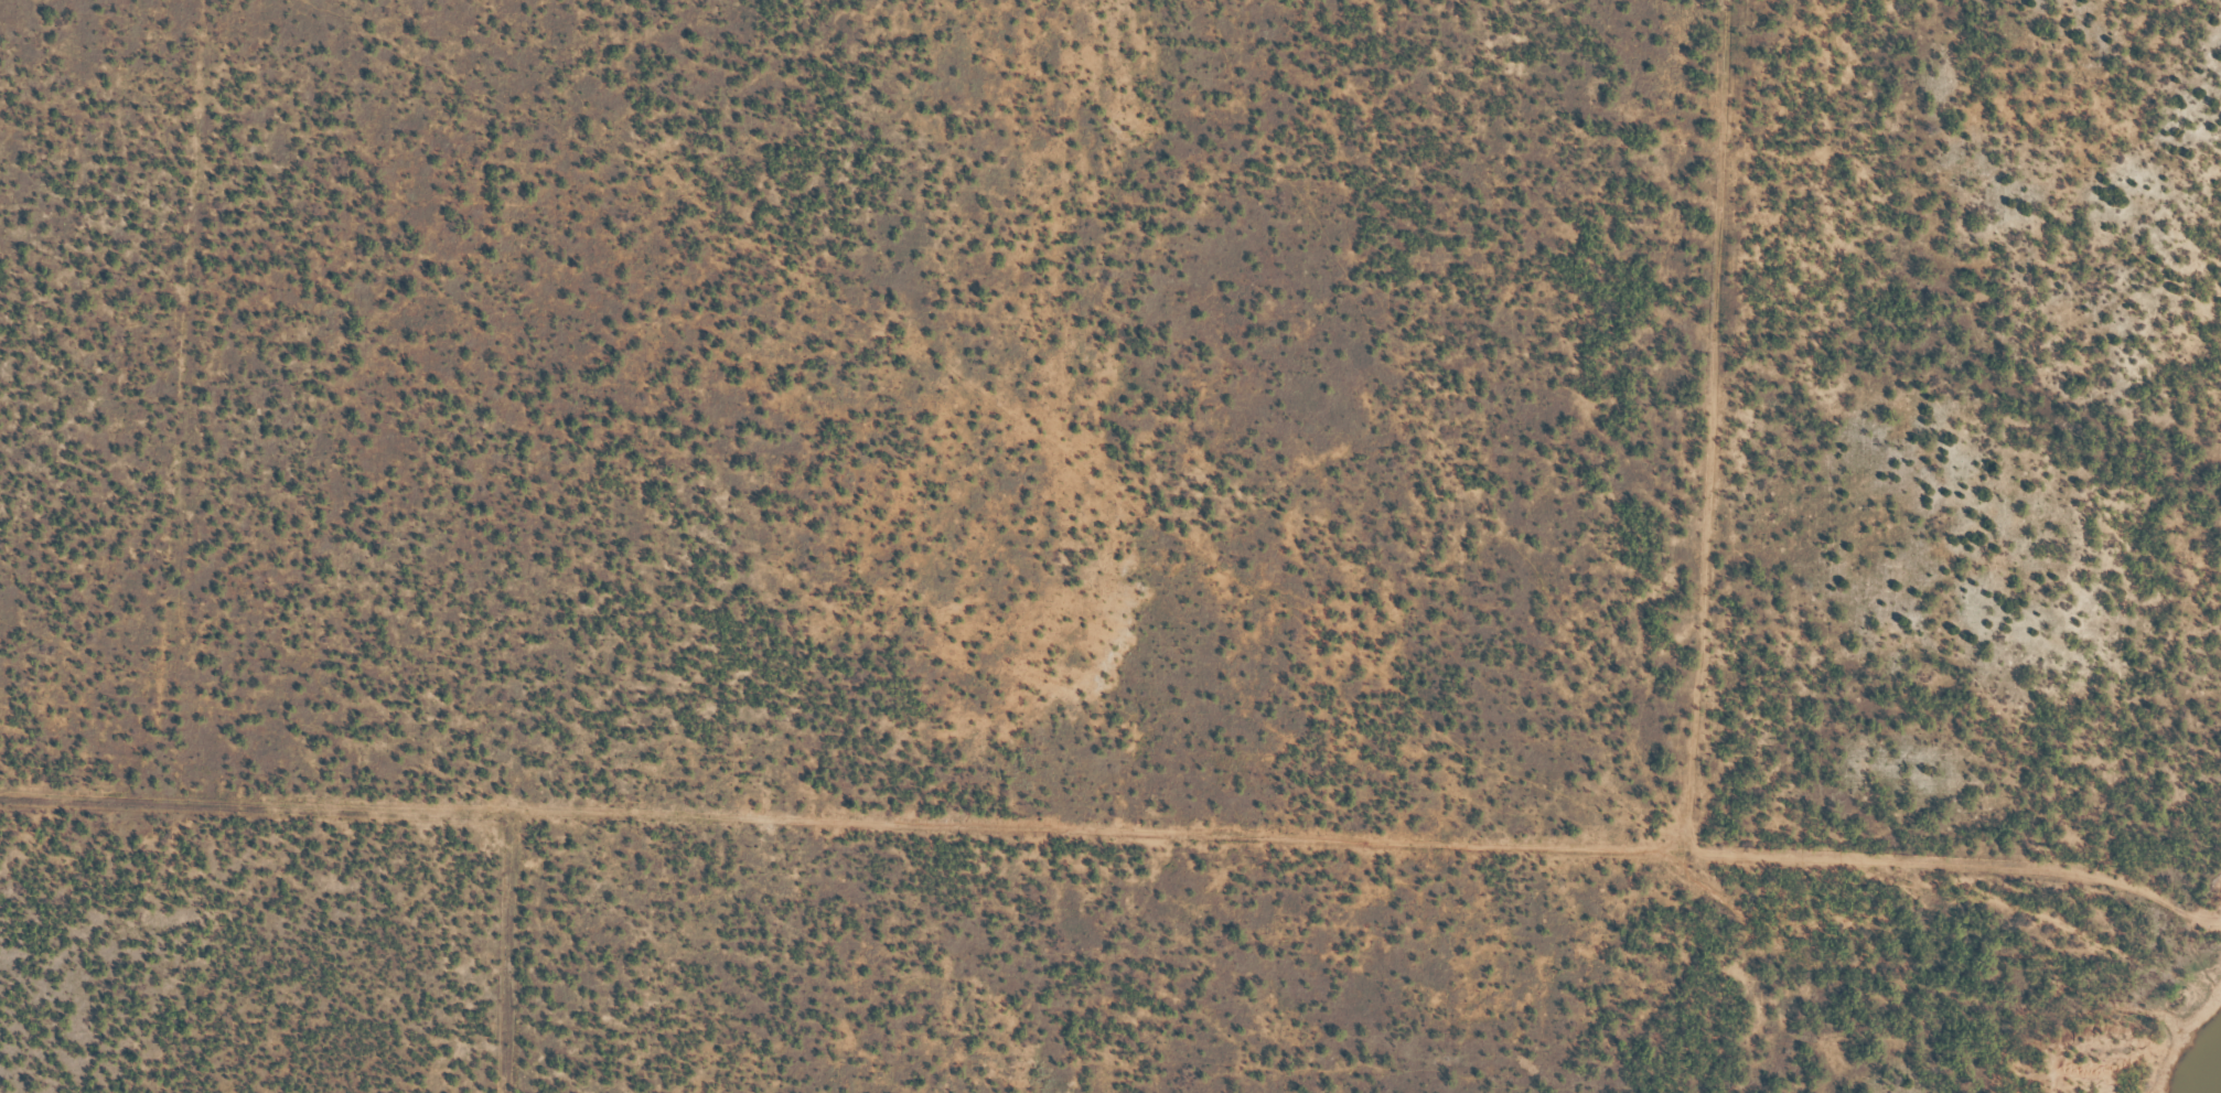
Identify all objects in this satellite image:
road: (1684, 678)

